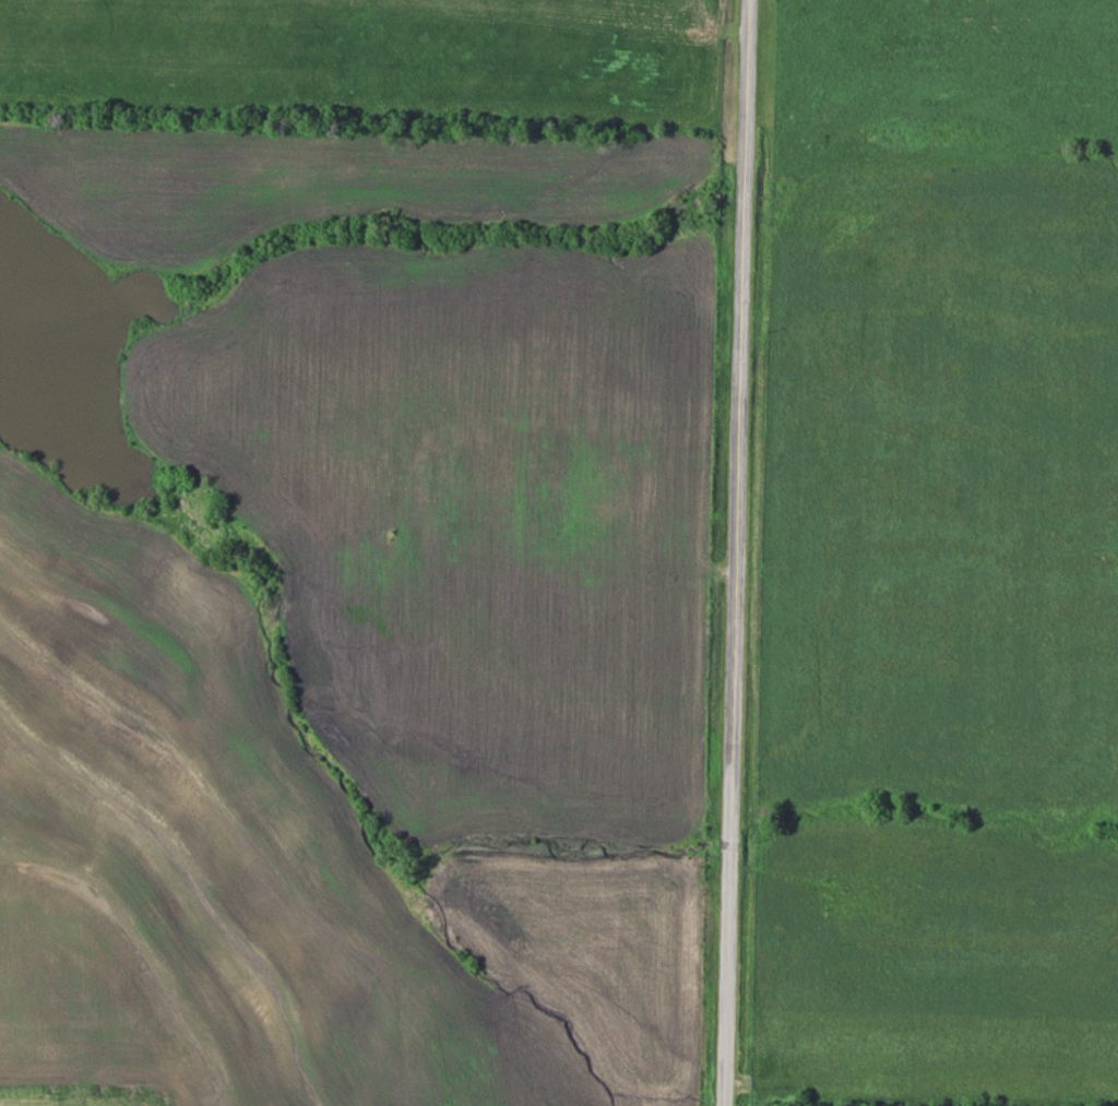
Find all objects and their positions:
road: (739, 552)

